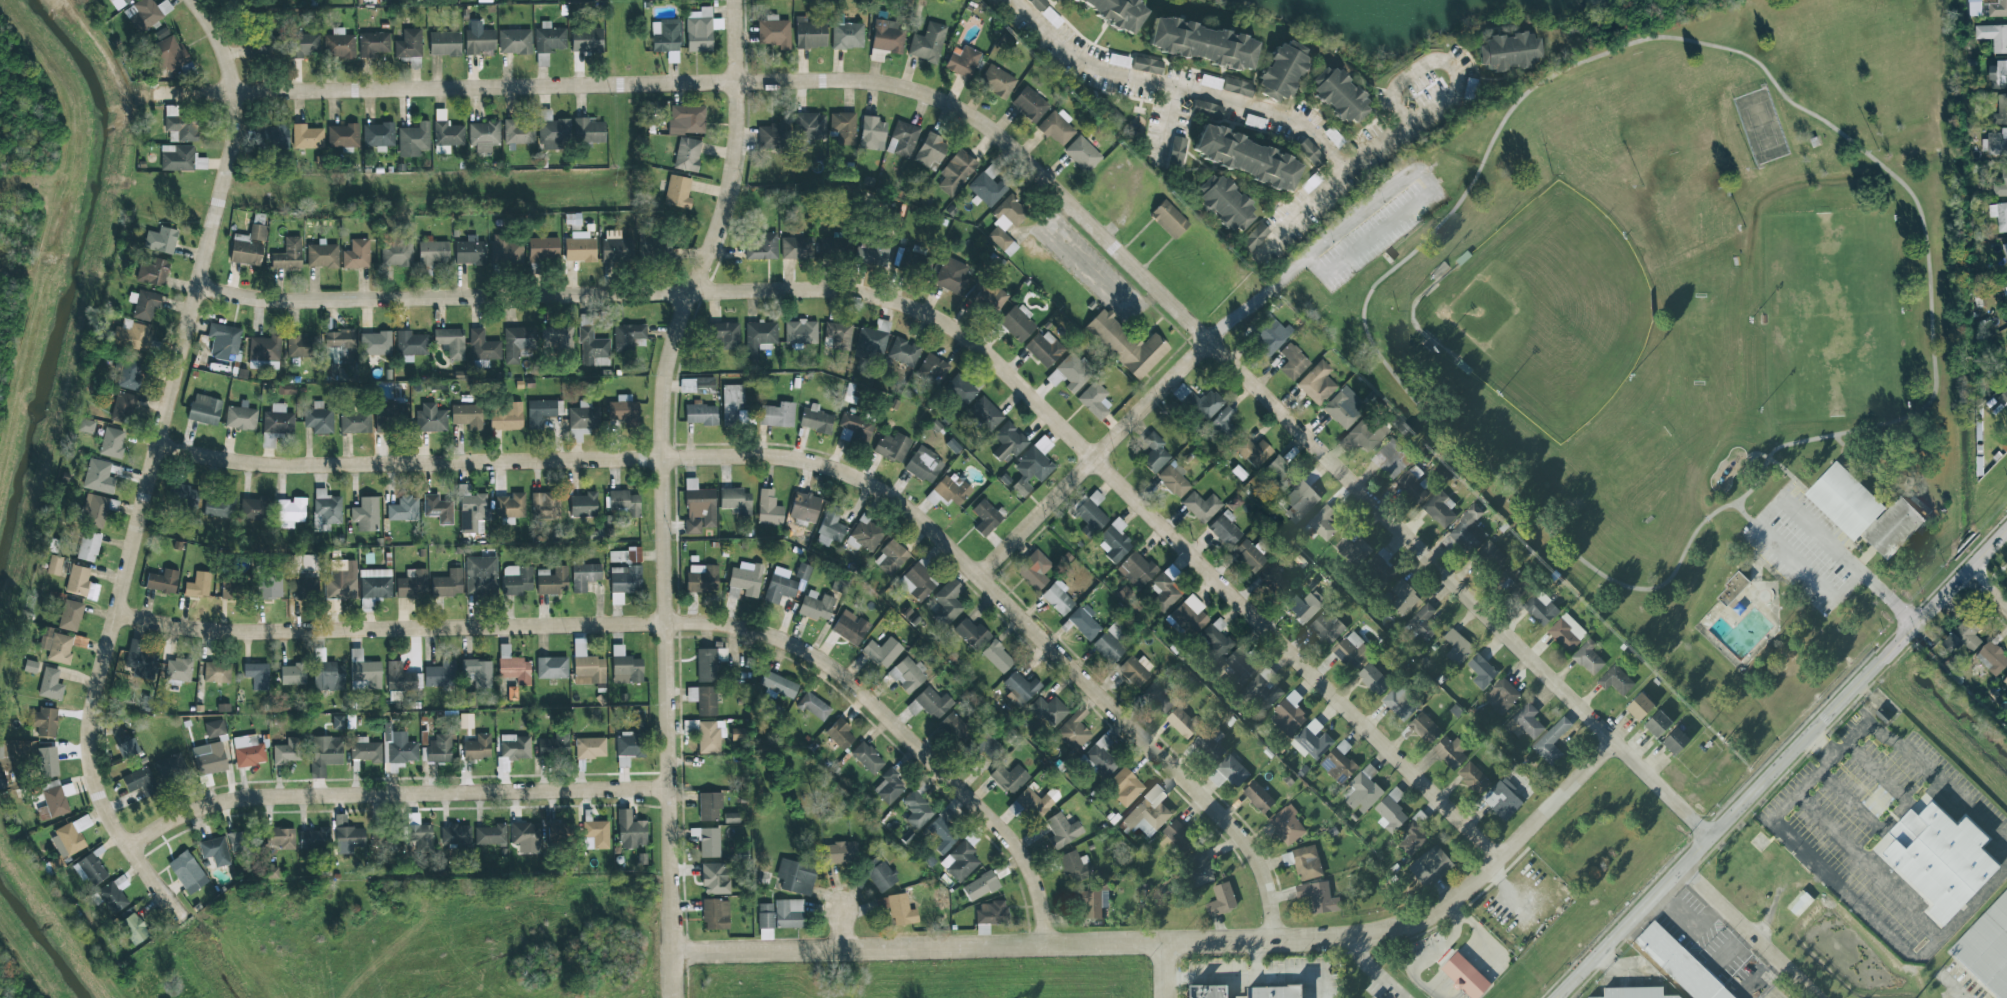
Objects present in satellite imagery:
building: (118, 3)
building: (1037, 4)
building: (1998, 9)
building: (1118, 11)
building: (773, 32)
building: (809, 34)
building: (1993, 35)
building: (847, 36)
building: (888, 36)
building: (549, 38)
building: (479, 39)
building: (586, 40)
building: (514, 41)
building: (927, 43)
building: (373, 44)
building: (408, 44)
building: (444, 44)
building: (1202, 44)
building: (303, 45)
building: (338, 45)
building: (259, 51)
building: (1508, 51)
building: (169, 53)
building: (542, 60)
building: (962, 61)
building: (1147, 65)
road: (1413, 70)
building: (1283, 71)
building: (1999, 75)
building: (997, 81)
building: (1238, 87)
road: (1170, 93)
building: (1339, 95)
building: (1029, 104)
building: (1208, 110)
building: (2001, 110)
building: (1110, 114)
building: (686, 119)
building: (179, 125)
building: (810, 126)
park: (1762, 126)
building: (843, 127)
building: (1057, 127)
building: (588, 130)
building: (553, 131)
building: (518, 132)
building: (872, 133)
building: (447, 134)
building: (342, 136)
building: (378, 136)
building: (483, 136)
building: (771, 136)
building: (274, 137)
building: (306, 137)
building: (902, 139)
building: (413, 140)
road: (1848, 140)
building: (1996, 142)
street lamp: (1877, 151)
building: (930, 152)
building: (1176, 152)
building: (1310, 152)
building: (687, 154)
building: (1082, 154)
building: (1246, 157)
building: (177, 158)
street lamp: (1753, 166)
building: (956, 173)
building: (2001, 184)
building: (986, 185)
street lamp: (1641, 185)
road: (1050, 187)
building: (677, 192)
road: (1386, 197)
building: (1225, 203)
road: (1300, 213)
building: (1999, 215)
building: (1169, 219)
street lamp: (1902, 219)
building: (246, 222)
building: (1006, 223)
street lamp: (1744, 228)
building: (257, 232)
building: (612, 234)
parking lot: (1377, 235)
street lamp: (1625, 235)
building: (1254, 237)
building: (161, 240)
building: (652, 246)
building: (761, 246)
building: (579, 247)
building: (796, 248)
building: (832, 248)
building: (543, 249)
building: (2005, 249)
building: (506, 250)
building: (615, 250)
building: (470, 251)
building: (245, 253)
building: (396, 253)
building: (433, 253)
building: (869, 253)
building: (356, 254)
building: (288, 255)
building: (322, 256)
building: (908, 260)
building: (153, 272)
building: (951, 275)
park: (13, 280)
building: (2005, 290)
building: (987, 297)
building: (144, 304)
park: (1546, 311)
park: (1829, 314)
street lamp: (1750, 320)
building: (1017, 322)
road: (949, 329)
building: (800, 332)
park: (1683, 332)
building: (1269, 335)
building: (131, 336)
building: (627, 336)
building: (723, 336)
building: (837, 336)
building: (556, 338)
building: (759, 338)
building: (872, 339)
building: (223, 341)
building: (450, 342)
building: (375, 343)
building: (517, 343)
building: (301, 344)
building: (342, 344)
building: (411, 344)
building: (1126, 345)
building: (483, 347)
building: (265, 348)
building: (1044, 349)
building: (903, 352)
building: (1292, 362)
building: (932, 370)
building: (127, 372)
building: (1069, 374)
street lamp: (1630, 378)
building: (1317, 383)
building: (696, 385)
building: (960, 390)
building: (2003, 397)
building: (1094, 400)
building: (1200, 402)
street lamp: (1914, 404)
building: (733, 406)
building: (123, 407)
building: (1344, 408)
building: (204, 409)
building: (623, 410)
street lamp: (1757, 411)
building: (541, 412)
building: (700, 413)
building: (985, 413)
building: (388, 414)
building: (777, 415)
building: (467, 416)
building: (505, 416)
building: (583, 417)
building: (240, 418)
building: (318, 419)
building: (430, 419)
building: (815, 419)
building: (354, 423)
building: (1222, 423)
building: (85, 426)
building: (855, 429)
building: (112, 442)
building: (1008, 442)
building: (892, 447)
building: (1252, 451)
building: (1154, 453)
road: (1093, 459)
building: (1391, 460)
road: (825, 465)
building: (924, 465)
building: (1032, 465)
road: (1777, 465)
road: (149, 466)
road: (1493, 471)
building: (1279, 473)
building: (98, 477)
building: (1173, 479)
building: (1414, 485)
building: (948, 491)
road: (661, 493)
building: (185, 498)
building: (736, 501)
building: (1300, 501)
building: (623, 503)
road: (1789, 503)
building: (545, 505)
building: (583, 505)
building: (218, 506)
building: (1201, 506)
building: (768, 508)
building: (97, 509)
building: (254, 509)
building: (403, 509)
building: (437, 509)
building: (325, 510)
building: (699, 510)
building: (804, 510)
building: (1440, 510)
building: (472, 511)
building: (290, 512)
building: (1863, 512)
building: (366, 514)
building: (1090, 514)
building: (985, 518)
road: (1750, 518)
building: (1323, 524)
building: (830, 526)
building: (1224, 529)
building: (1468, 531)
building: (865, 534)
building: (1114, 541)
building: (88, 546)
building: (1354, 551)
building: (633, 554)
building: (1249, 555)
parking lot: (1812, 555)
building: (1492, 556)
building: (891, 558)
building: (54, 565)
building: (1382, 568)
building: (1136, 569)
building: (1034, 570)
building: (803, 571)
building: (481, 575)
building: (584, 576)
building: (702, 579)
building: (516, 580)
building: (551, 580)
building: (1274, 580)
building: (162, 581)
building: (744, 581)
building: (342, 582)
building: (623, 582)
building: (917, 582)
building: (80, 583)
building: (375, 584)
building: (412, 584)
building: (447, 584)
building: (1515, 584)
building: (197, 586)
building: (270, 587)
building: (304, 587)
building: (779, 587)
building: (1732, 588)
road: (1989, 588)
building: (229, 590)
building: (1164, 593)
building: (1057, 597)
building: (1404, 598)
building: (947, 602)
building: (816, 605)
building: (1302, 605)
building: (1541, 608)
building: (70, 615)
building: (1189, 616)
building: (1084, 622)
road: (656, 623)
building: (1422, 624)
building: (850, 627)
building: (1327, 627)
building: (1567, 632)
building: (971, 634)
building: (1214, 639)
building: (1959, 642)
building: (56, 645)
building: (1108, 647)
building: (1457, 648)
building: (1352, 651)
building: (882, 652)
building: (997, 657)
building: (1589, 658)
building: (1992, 658)
building: (708, 663)
building: (141, 664)
building: (513, 667)
building: (625, 667)
building: (1239, 667)
building: (551, 668)
building: (587, 668)
building: (1134, 670)
building: (216, 672)
building: (363, 672)
building: (478, 672)
building: (1482, 672)
building: (292, 674)
building: (440, 674)
building: (907, 674)
building: (256, 675)
building: (328, 676)
building: (401, 678)
building: (1373, 680)
building: (1617, 681)
building: (2005, 681)
building: (50, 684)
building: (777, 686)
building: (1020, 689)
building: (1264, 691)
building: (1159, 697)
building: (1502, 697)
building: (703, 699)
building: (933, 702)
building: (1400, 703)
building: (813, 706)
building: (1640, 707)
building: (1049, 711)
building: (1289, 715)
building: (465, 721)
building: (44, 722)
building: (1182, 723)
building: (1526, 723)
building: (1658, 725)
building: (214, 728)
building: (954, 728)
building: (1425, 729)
building: (1073, 731)
building: (737, 734)
building: (840, 734)
building: (708, 735)
building: (1312, 741)
building: (1551, 742)
building: (1676, 742)
building: (1210, 744)
building: (628, 745)
building: (983, 745)
building: (554, 746)
building: (127, 747)
building: (514, 747)
building: (398, 748)
building: (477, 748)
building: (589, 748)
road: (1823, 748)
building: (438, 749)
building: (366, 750)
building: (248, 751)
building: (288, 751)
building: (1450, 752)
building: (325, 753)
building: (867, 757)
building: (209, 758)
building: (1100, 760)
building: (47, 762)
building: (1339, 763)
road: (1784, 766)
building: (171, 769)
building: (1233, 771)
building: (1009, 778)
building: (1474, 779)
building: (140, 782)
building: (889, 787)
building: (1124, 787)
building: (1362, 791)
road: (391, 795)
building: (1259, 798)
building: (1502, 799)
building: (1036, 802)
building: (52, 804)
building: (709, 806)
building: (916, 810)
building: (1391, 812)
building: (1148, 813)
road: (1895, 816)
road: (1776, 822)
building: (1288, 825)
building: (631, 830)
building: (943, 831)
building: (1061, 831)
building: (558, 832)
building: (419, 834)
building: (490, 835)
building: (595, 835)
building: (455, 836)
building: (1179, 836)
building: (70, 837)
building: (349, 837)
building: (525, 837)
building: (281, 838)
building: (313, 838)
building: (379, 839)
building: (1412, 839)
building: (240, 841)
building: (706, 841)
building: (215, 851)
building: (839, 853)
building: (1938, 859)
building: (960, 862)
building: (1304, 863)
road: (1871, 865)
building: (1075, 867)
building: (1431, 867)
building: (90, 869)
building: (1200, 869)
building: (187, 872)
building: (879, 874)
building: (795, 876)
building: (714, 879)
building: (980, 886)
building: (113, 895)
building: (1319, 897)
building: (1222, 901)
building: (1093, 902)
building: (1800, 903)
building: (897, 909)
building: (991, 912)
building: (789, 913)
building: (715, 914)
building: (765, 916)
road: (1736, 917)
building: (133, 929)
road: (844, 929)
building: (982, 929)
building: (765, 934)
road: (1181, 943)
building: (1986, 949)
road: (1257, 959)
building: (1679, 964)
road: (1165, 970)
road: (1372, 972)
park: (14, 973)
road: (1253, 977)
building: (1465, 977)
road: (1952, 980)
road: (1803, 982)
building: (1208, 992)
building: (1273, 992)
building: (1635, 993)
building: (1373, 997)

